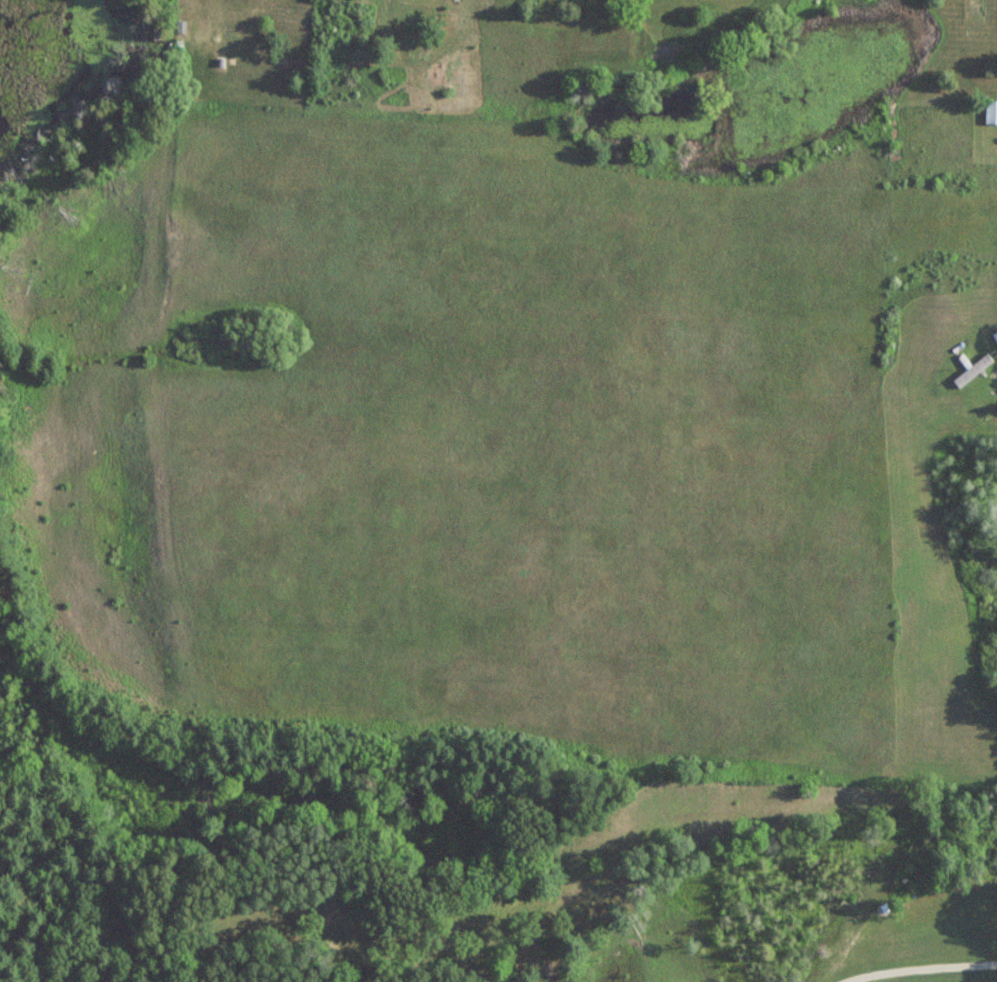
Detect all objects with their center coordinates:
building: (990, 113)
building: (994, 338)
building: (971, 371)
road: (916, 968)

